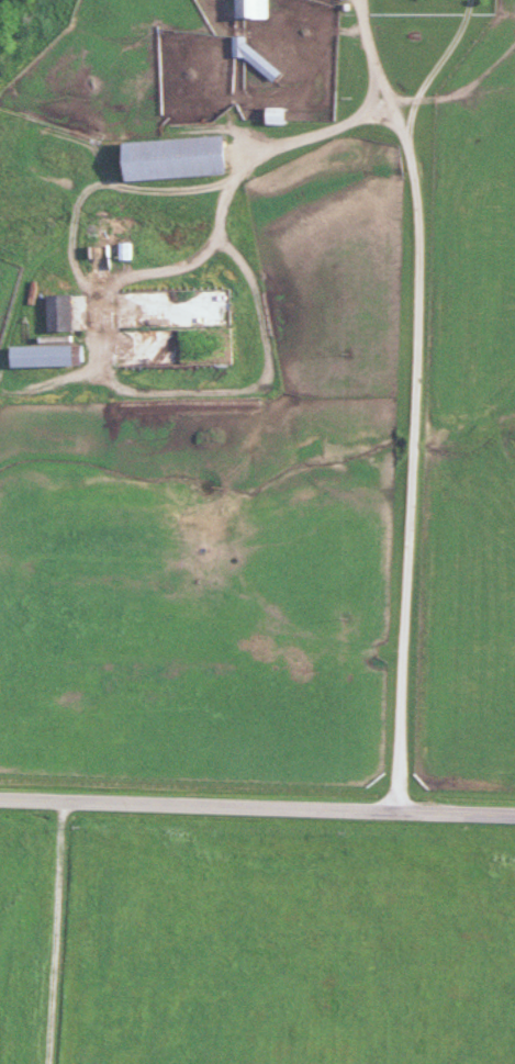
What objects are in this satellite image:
building: (247, 9)
road: (428, 71)
building: (271, 115)
building: (170, 158)
road: (234, 178)
building: (96, 258)
building: (56, 314)
building: (43, 356)
road: (408, 401)
road: (257, 807)
road: (51, 931)

